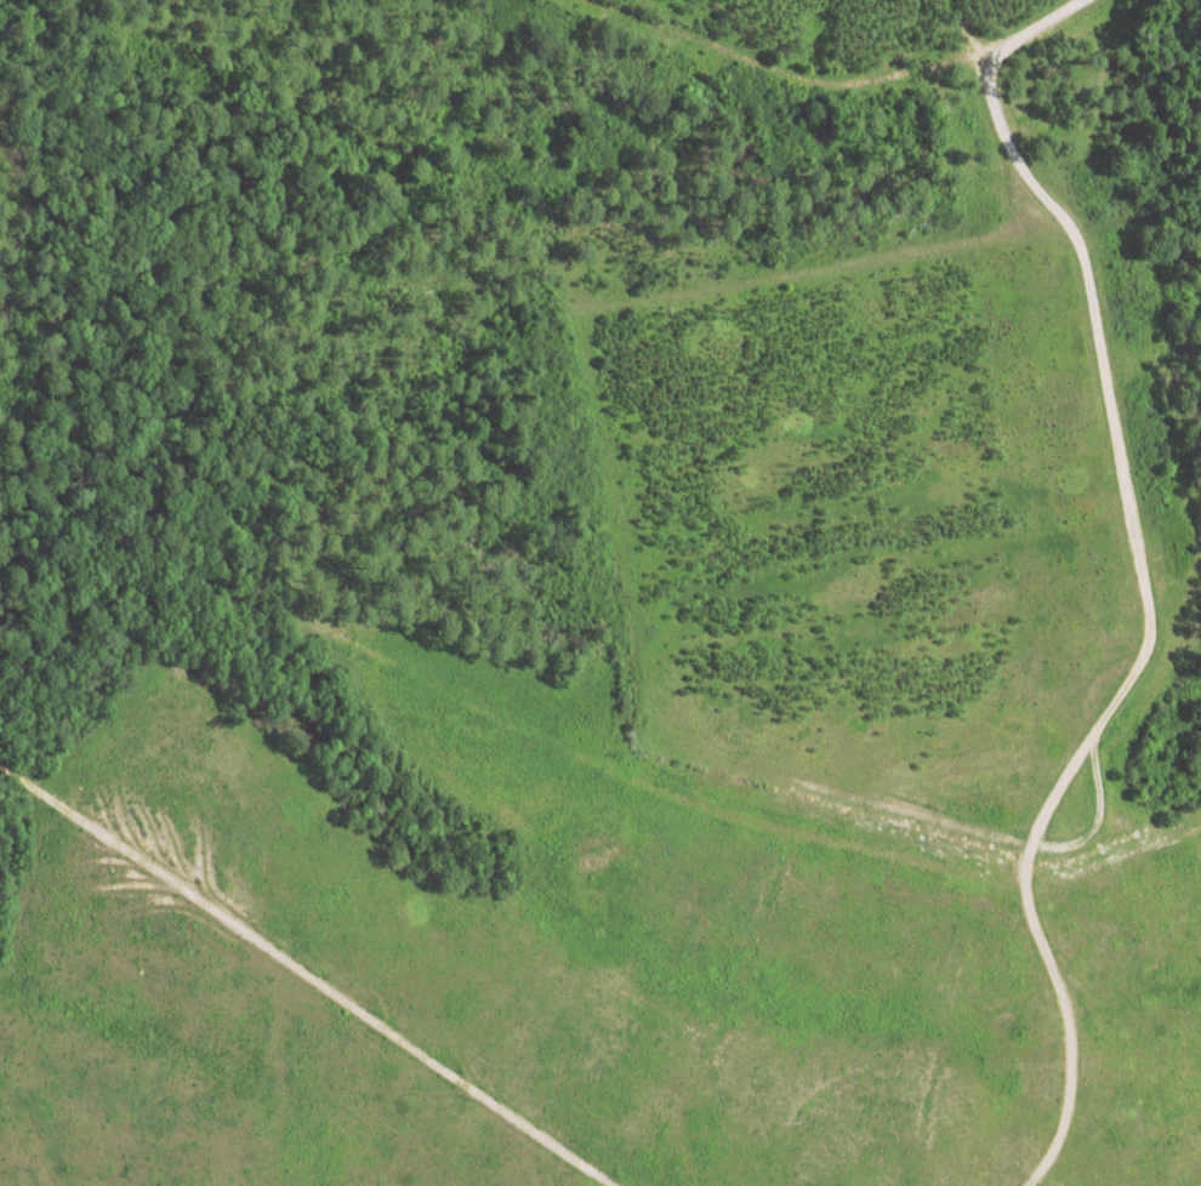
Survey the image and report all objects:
road: (1111, 404)
road: (610, 464)
road: (35, 786)
road: (1094, 811)
road: (351, 998)
road: (1071, 1014)

